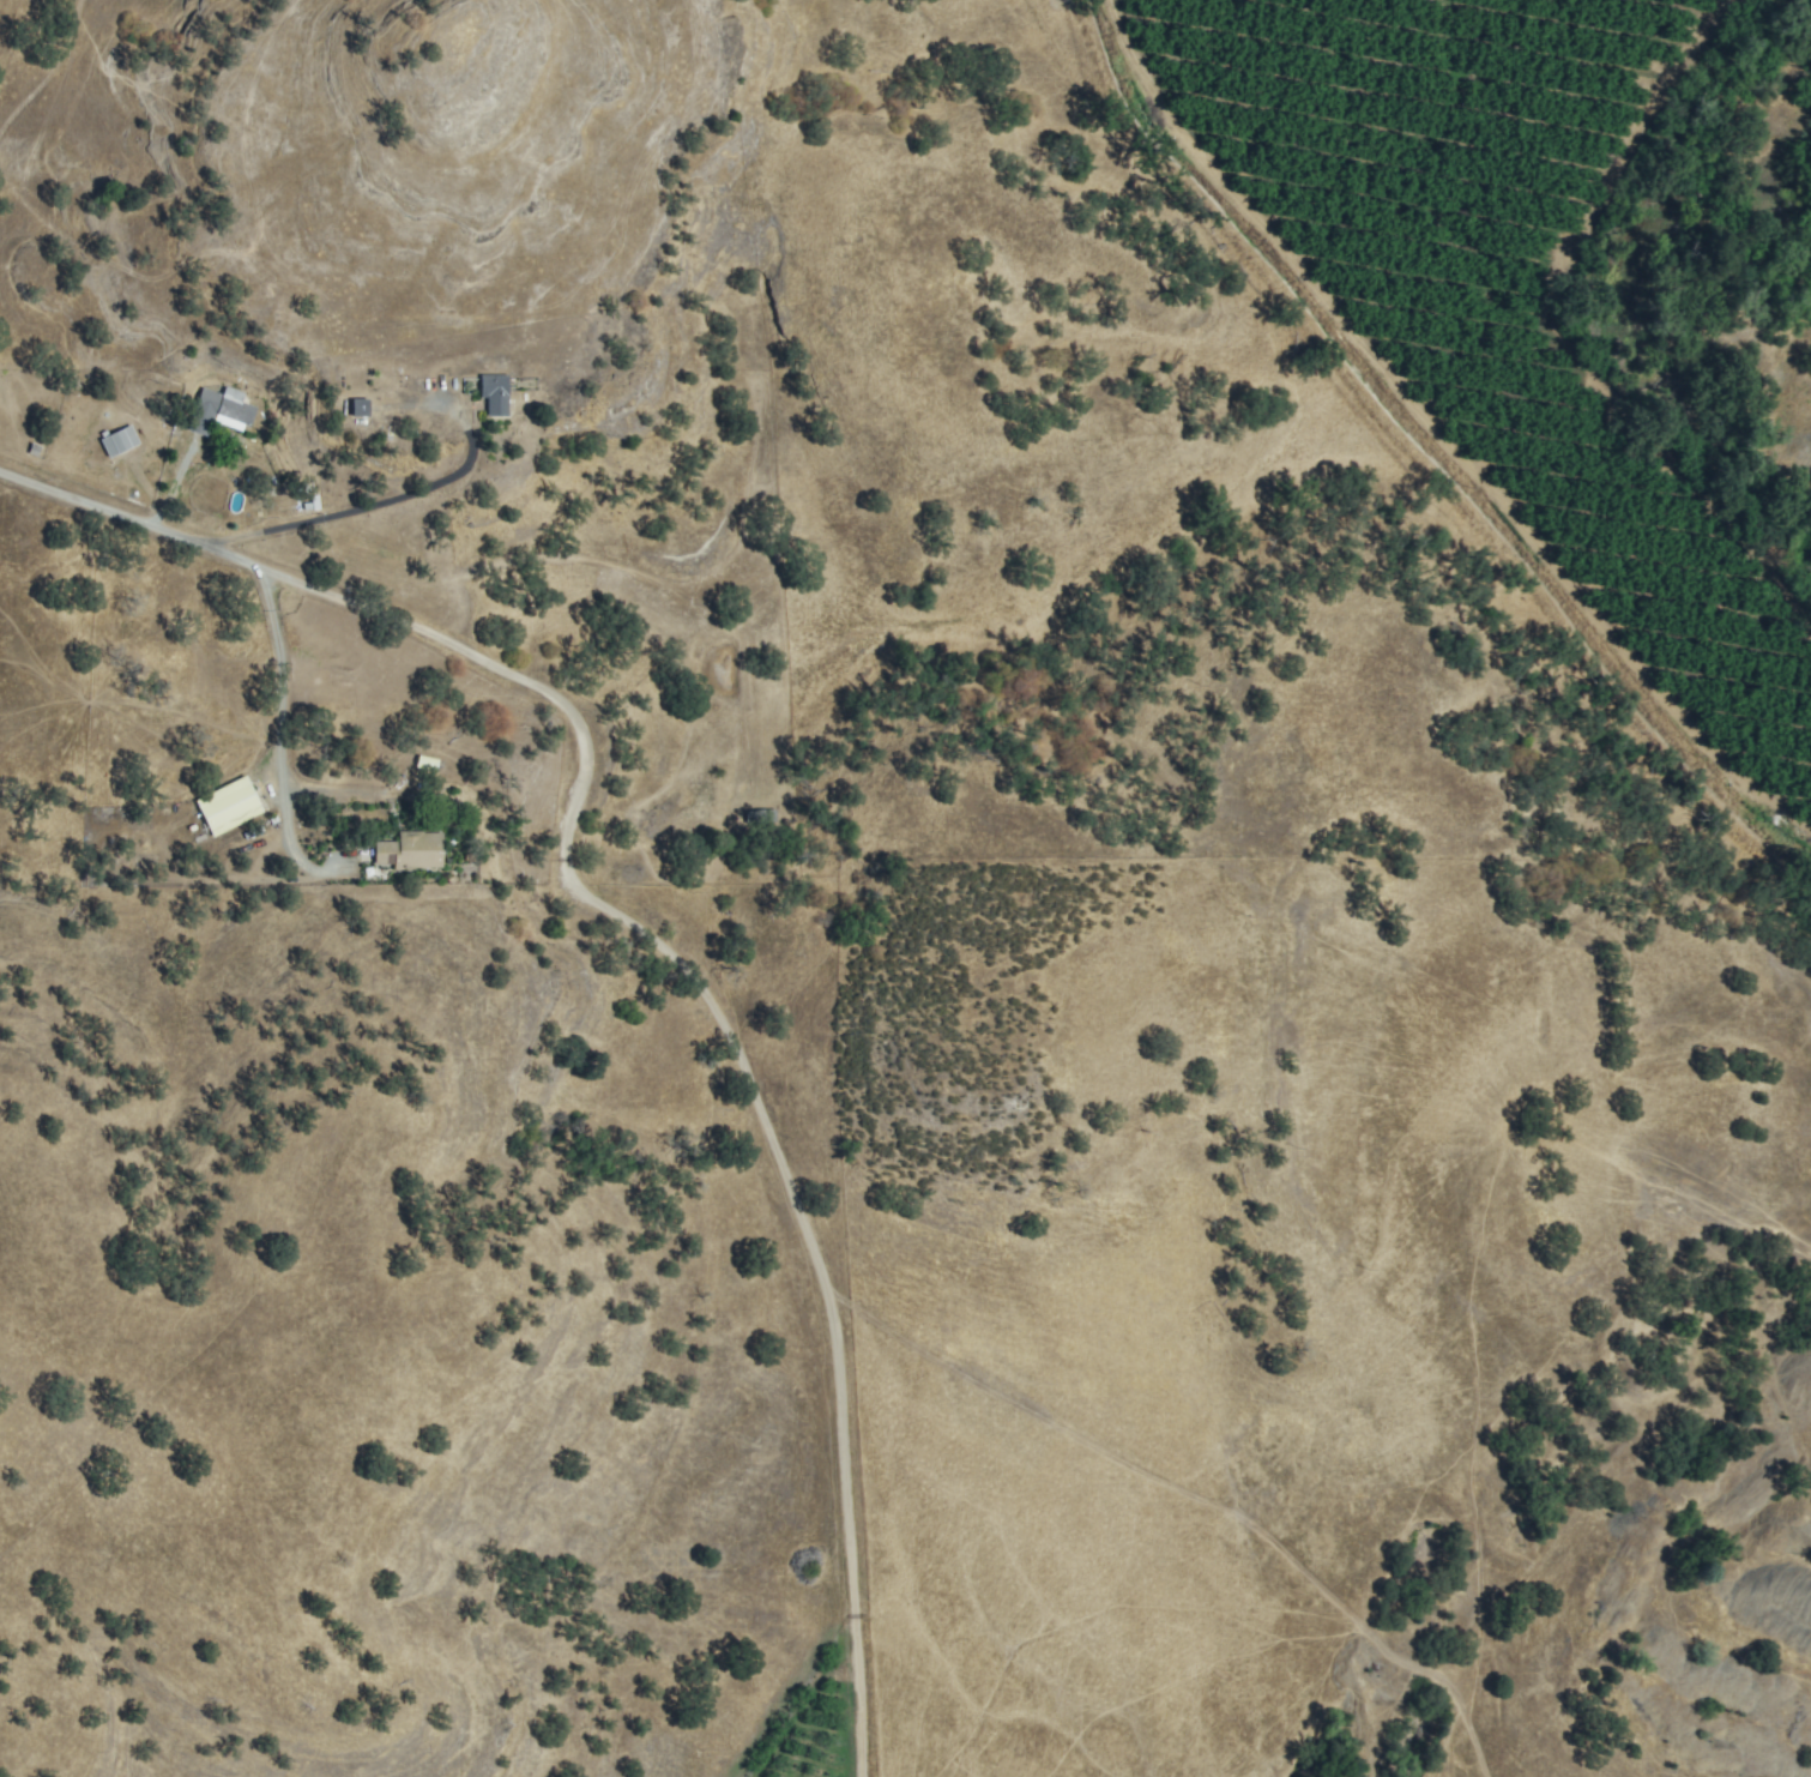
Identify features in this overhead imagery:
building: (496, 393)
building: (357, 408)
building: (206, 411)
building: (237, 411)
building: (121, 442)
building: (306, 504)
road: (381, 507)
road: (283, 736)
building: (230, 807)
building: (763, 817)
building: (412, 850)
road: (654, 930)
crop: (811, 1734)

